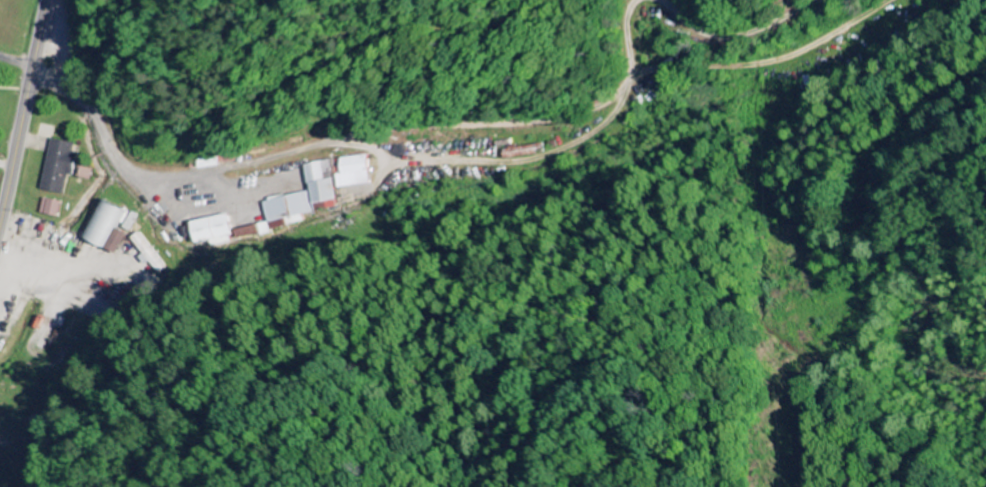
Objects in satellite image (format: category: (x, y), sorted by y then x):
road: (16, 64)
road: (23, 109)
road: (110, 153)
building: (61, 167)
building: (354, 173)
building: (53, 209)
building: (107, 225)
building: (216, 232)
building: (119, 242)
building: (150, 253)

